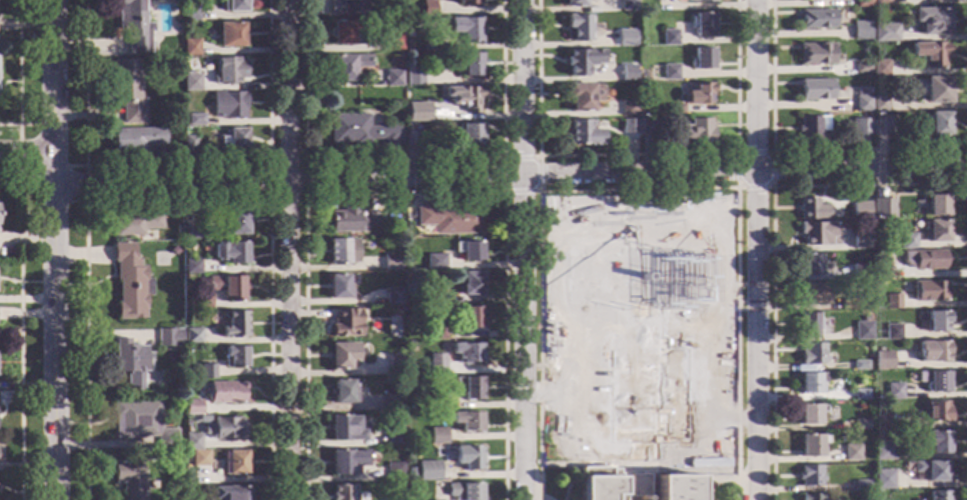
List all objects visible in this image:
building: (818, 0)
building: (701, 1)
building: (467, 2)
building: (879, 3)
building: (574, 4)
building: (862, 4)
building: (232, 6)
building: (627, 6)
building: (345, 7)
building: (428, 9)
building: (189, 13)
building: (816, 20)
building: (932, 21)
building: (133, 25)
building: (701, 25)
building: (577, 28)
building: (464, 29)
building: (859, 32)
building: (880, 33)
building: (346, 34)
building: (229, 35)
building: (627, 39)
building: (668, 39)
building: (393, 42)
building: (428, 44)
building: (189, 48)
building: (815, 55)
building: (929, 55)
building: (701, 60)
building: (465, 64)
building: (577, 64)
building: (345, 67)
building: (879, 69)
road: (18, 70)
building: (861, 70)
building: (227, 72)
building: (669, 73)
building: (627, 74)
building: (413, 77)
building: (392, 79)
building: (190, 83)
road: (85, 87)
building: (815, 90)
building: (936, 91)
building: (126, 92)
building: (697, 95)
building: (582, 97)
building: (464, 99)
building: (861, 104)
building: (879, 105)
building: (227, 106)
building: (628, 109)
building: (675, 110)
building: (416, 114)
building: (194, 121)
road: (37, 125)
building: (937, 125)
building: (628, 127)
building: (649, 127)
building: (414, 128)
building: (881, 128)
building: (811, 129)
building: (359, 131)
building: (581, 132)
building: (694, 133)
building: (862, 134)
building: (467, 135)
building: (410, 139)
building: (135, 140)
building: (232, 141)
building: (188, 145)
road: (18, 150)
road: (27, 152)
road: (76, 166)
building: (871, 168)
road: (53, 172)
road: (510, 177)
road: (29, 178)
road: (86, 185)
road: (70, 203)
building: (880, 204)
building: (936, 206)
building: (811, 210)
building: (860, 211)
building: (450, 220)
building: (350, 221)
building: (233, 222)
building: (135, 224)
park: (704, 224)
building: (400, 228)
park: (577, 230)
building: (935, 232)
building: (191, 233)
building: (815, 233)
building: (855, 242)
building: (905, 242)
road: (55, 249)
road: (289, 249)
road: (522, 249)
road: (754, 250)
building: (341, 252)
building: (467, 252)
building: (233, 253)
building: (928, 260)
building: (390, 263)
building: (434, 265)
building: (808, 265)
building: (191, 268)
building: (880, 271)
building: (841, 275)
building: (129, 284)
building: (468, 285)
building: (226, 288)
building: (337, 288)
building: (928, 292)
building: (813, 293)
building: (391, 298)
building: (435, 299)
building: (202, 302)
building: (891, 302)
building: (848, 305)
building: (463, 318)
building: (864, 319)
building: (935, 322)
building: (345, 324)
building: (808, 325)
building: (233, 326)
road: (19, 330)
building: (862, 332)
building: (434, 333)
building: (891, 333)
building: (191, 336)
building: (168, 338)
road: (86, 348)
building: (936, 352)
building: (465, 353)
building: (811, 354)
building: (341, 356)
building: (234, 358)
building: (881, 361)
building: (129, 362)
building: (394, 365)
building: (434, 365)
building: (859, 366)
building: (206, 372)
building: (932, 381)
building: (811, 385)
building: (466, 389)
building: (343, 392)
building: (892, 392)
building: (224, 393)
building: (860, 396)
building: (392, 402)
building: (435, 402)
building: (192, 408)
building: (935, 411)
building: (809, 415)
building: (465, 422)
building: (880, 423)
building: (142, 424)
building: (860, 425)
building: (344, 429)
building: (227, 430)
building: (436, 437)
building: (395, 439)
building: (191, 443)
building: (935, 443)
building: (811, 446)
building: (882, 452)
building: (851, 453)
building: (610, 454)
building: (467, 458)
building: (198, 459)
building: (233, 463)
building: (346, 463)
building: (426, 471)
building: (929, 471)
building: (393, 472)
building: (809, 477)
building: (129, 479)
building: (882, 480)
building: (861, 486)
building: (677, 488)
building: (462, 492)
building: (235, 493)
building: (342, 493)
building: (937, 496)
building: (810, 497)

